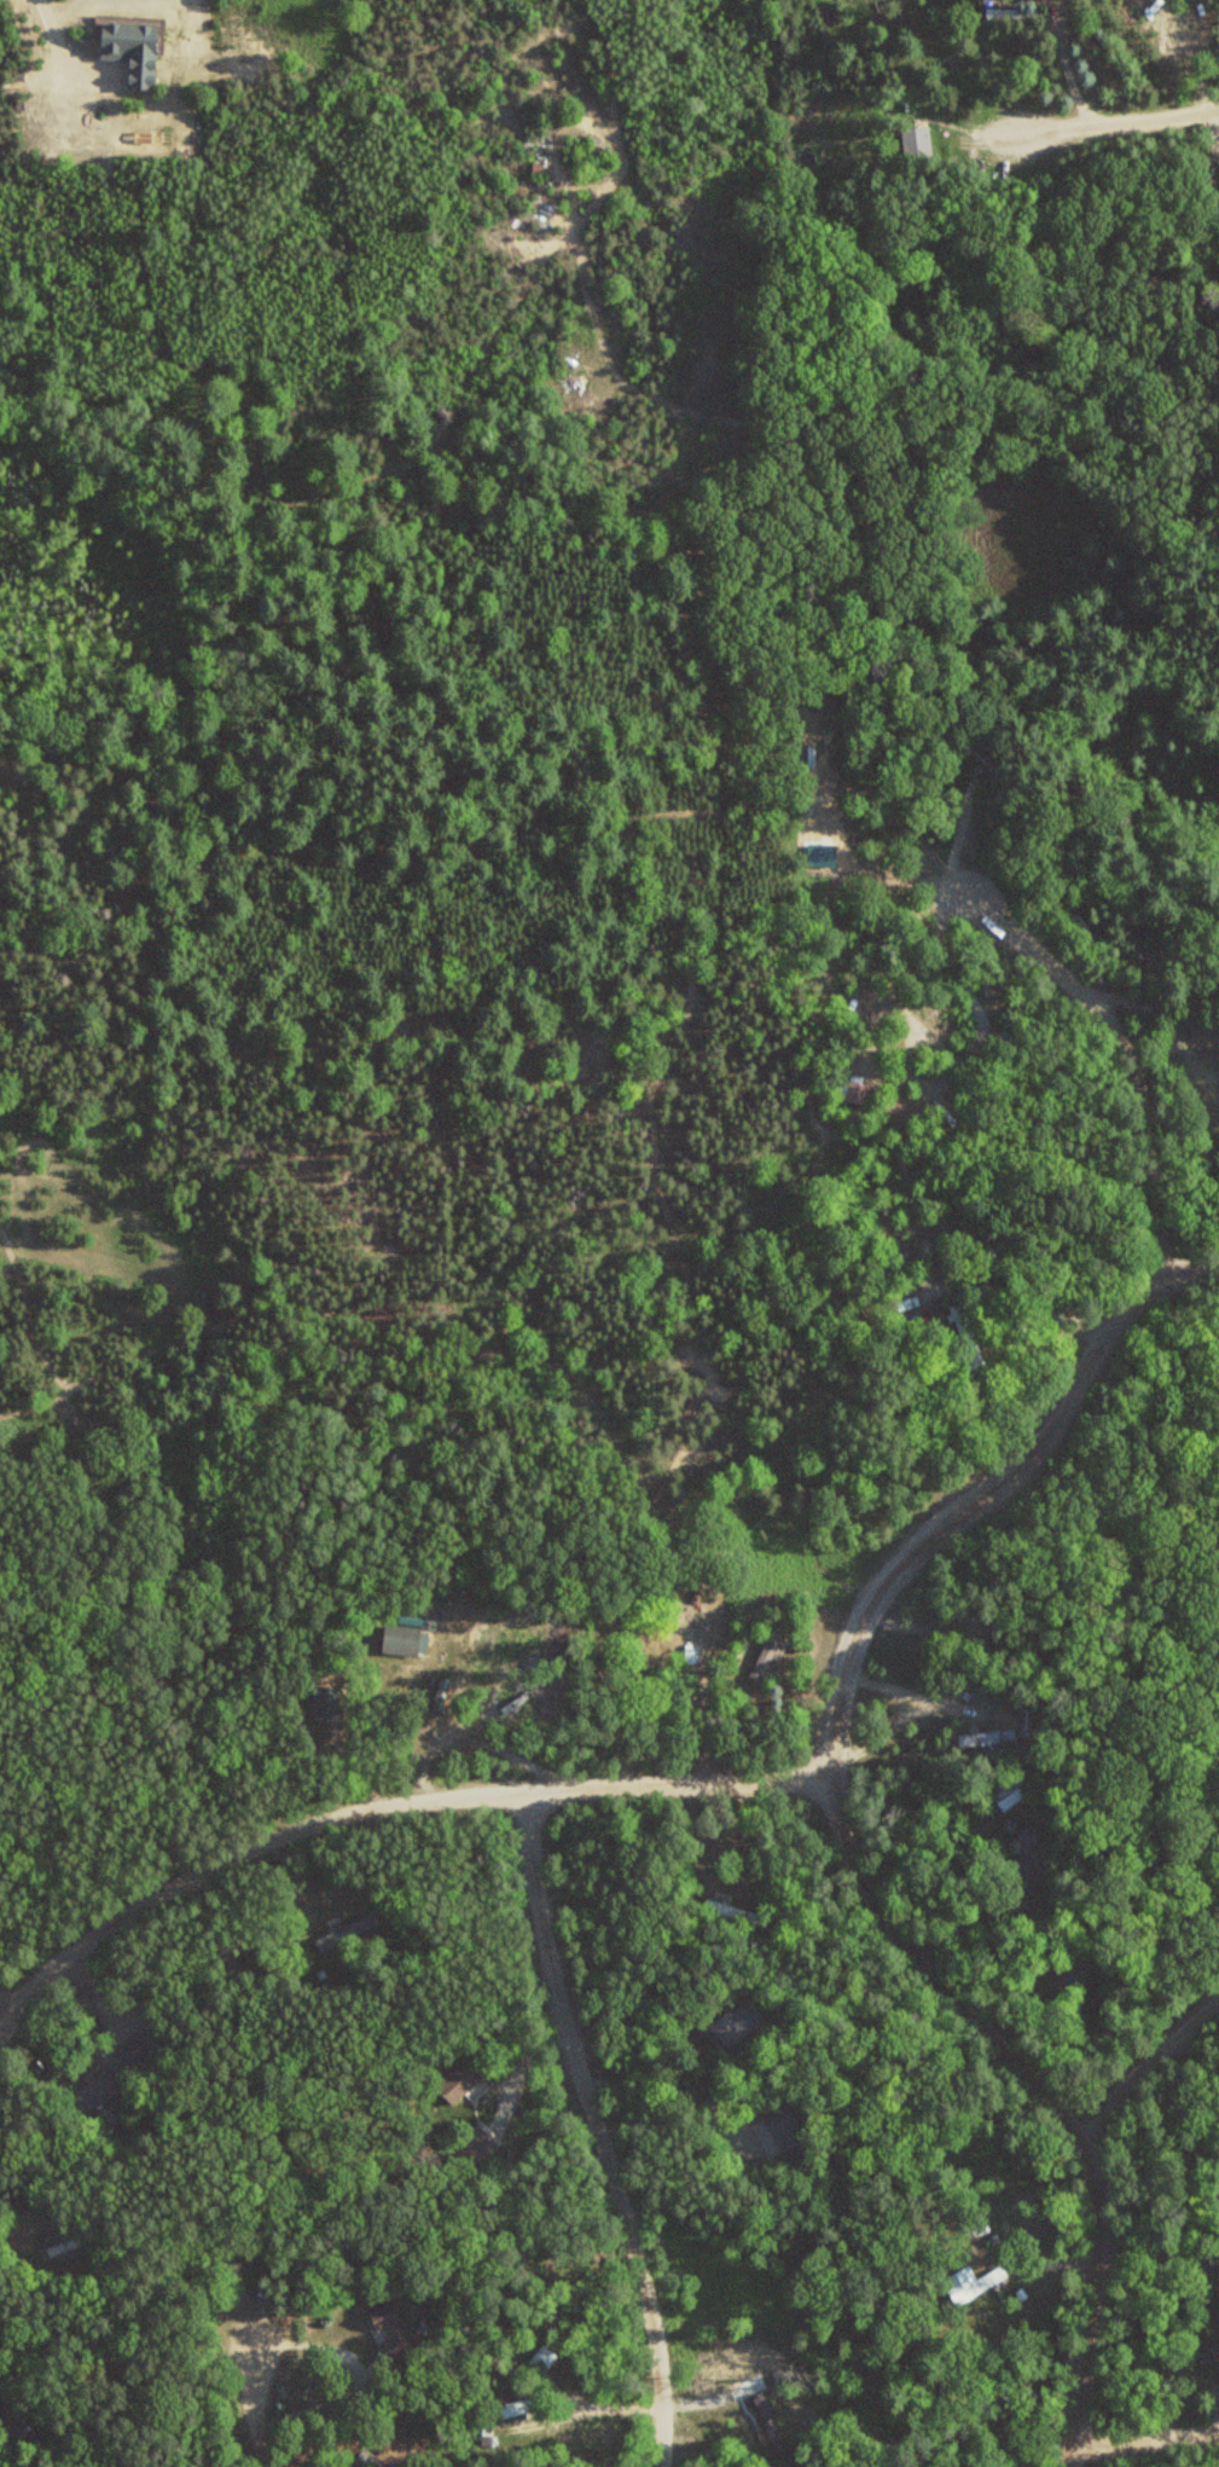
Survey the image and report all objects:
building: (1005, 12)
road: (1118, 118)
building: (917, 143)
building: (979, 753)
road: (1125, 1047)
building: (854, 1091)
building: (901, 1106)
building: (907, 1301)
building: (968, 1337)
building: (401, 1639)
building: (690, 1651)
building: (767, 1654)
building: (441, 1698)
building: (986, 1736)
building: (1010, 1791)
road: (379, 1805)
building: (1161, 1824)
road: (844, 1829)
building: (1026, 1861)
building: (733, 1912)
building: (347, 1930)
building: (1043, 1959)
road: (6, 2004)
building: (737, 2023)
building: (132, 2052)
road: (1150, 2066)
building: (459, 2081)
building: (93, 2092)
building: (779, 2119)
road: (598, 2129)
building: (477, 2148)
building: (62, 2246)
building: (1213, 2254)
building: (965, 2283)
building: (390, 2329)
building: (1209, 2353)
building: (964, 2404)
road: (256, 2411)
building: (16, 2420)
building: (768, 2421)
road: (1147, 2438)
building: (371, 2460)

